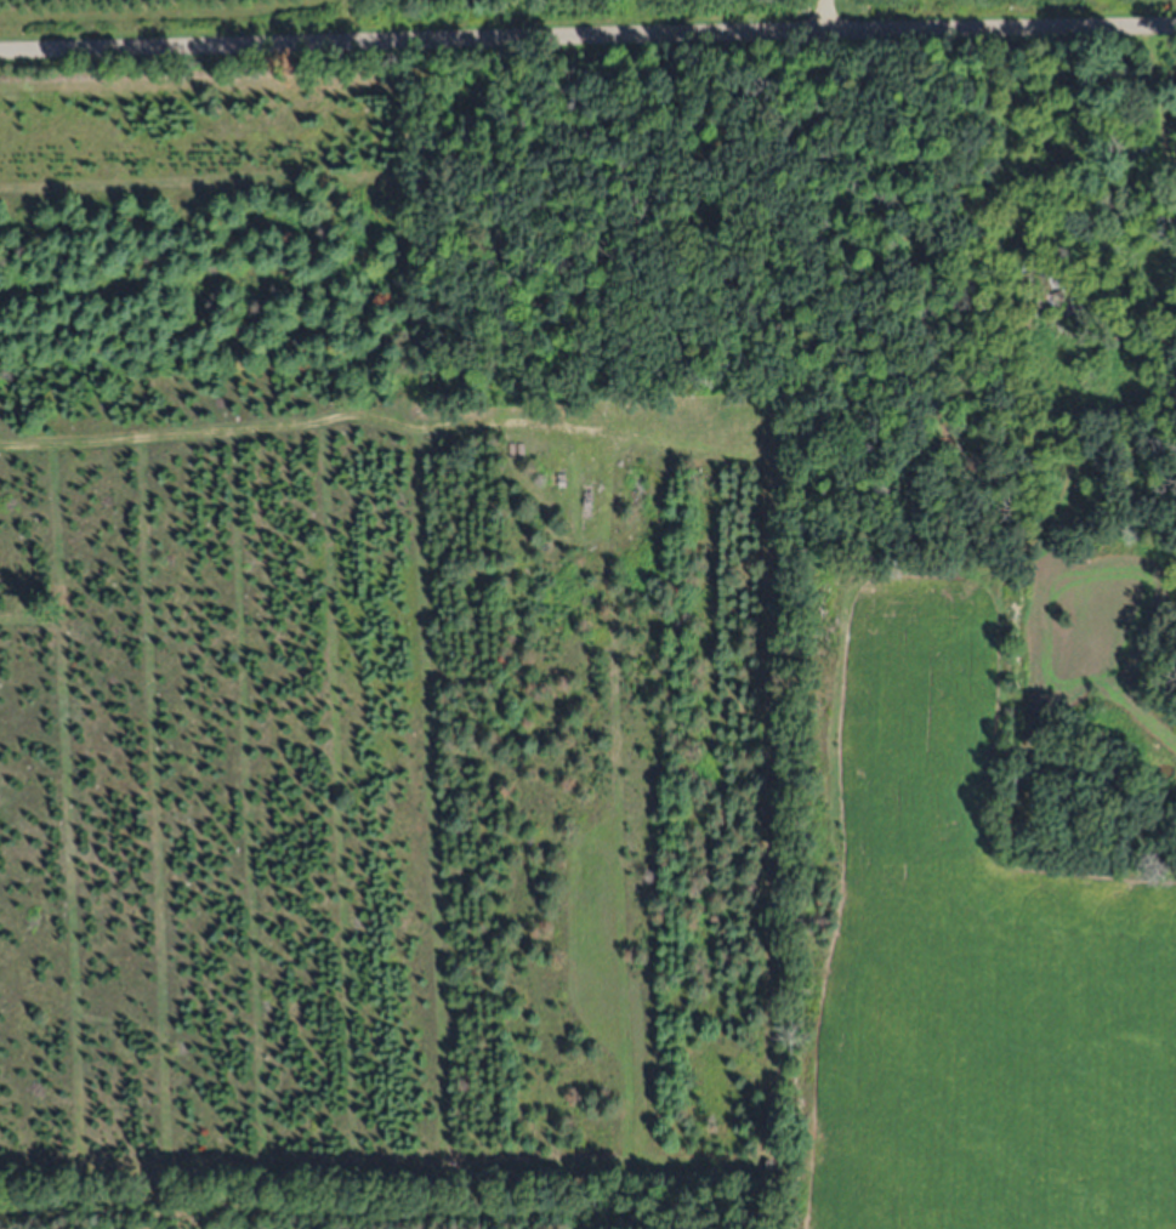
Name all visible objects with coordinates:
road: (587, 35)
building: (1163, 193)

